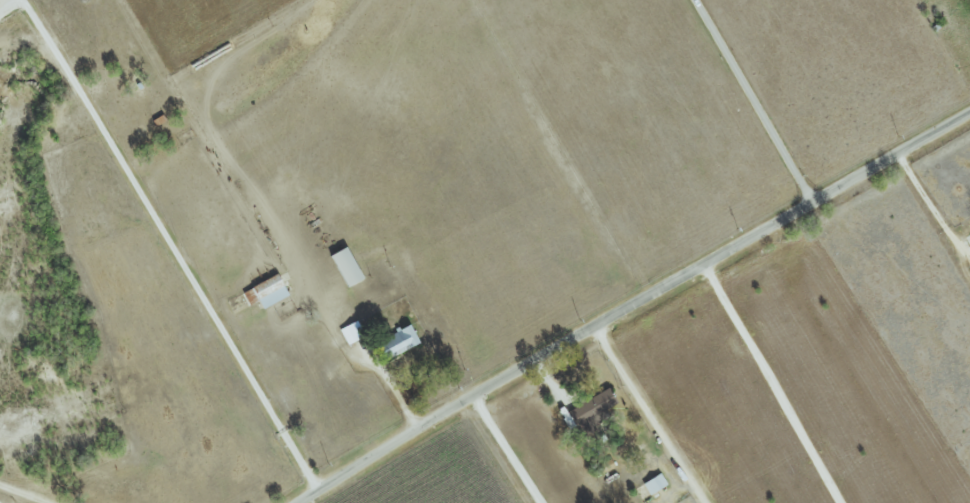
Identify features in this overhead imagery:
road: (755, 100)
road: (929, 201)
road: (168, 246)
road: (633, 304)
road: (333, 330)
building: (396, 342)
road: (769, 383)
road: (646, 416)
road: (507, 450)
building: (652, 484)
road: (22, 493)

